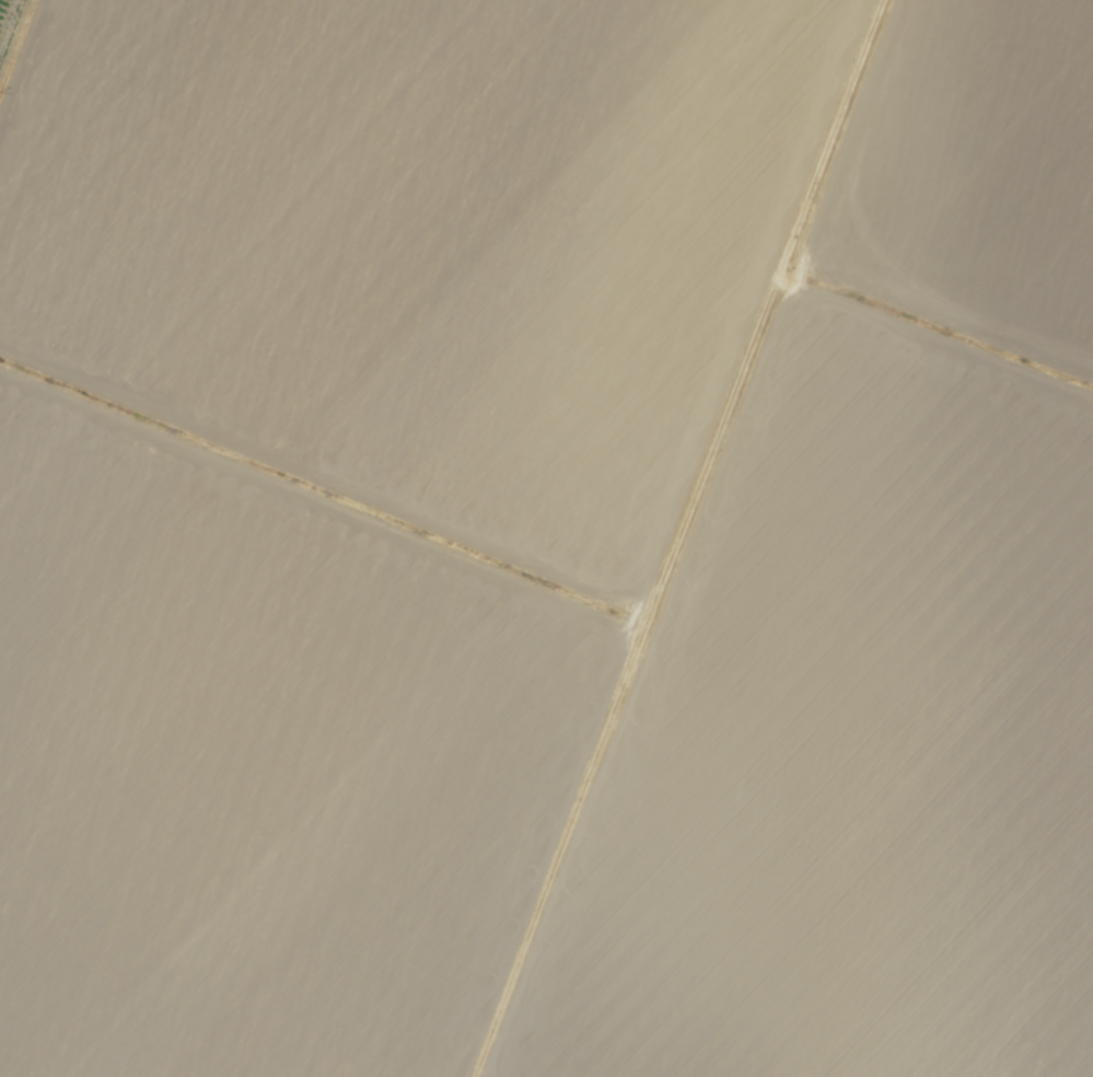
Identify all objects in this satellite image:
crop: (546, 538)

